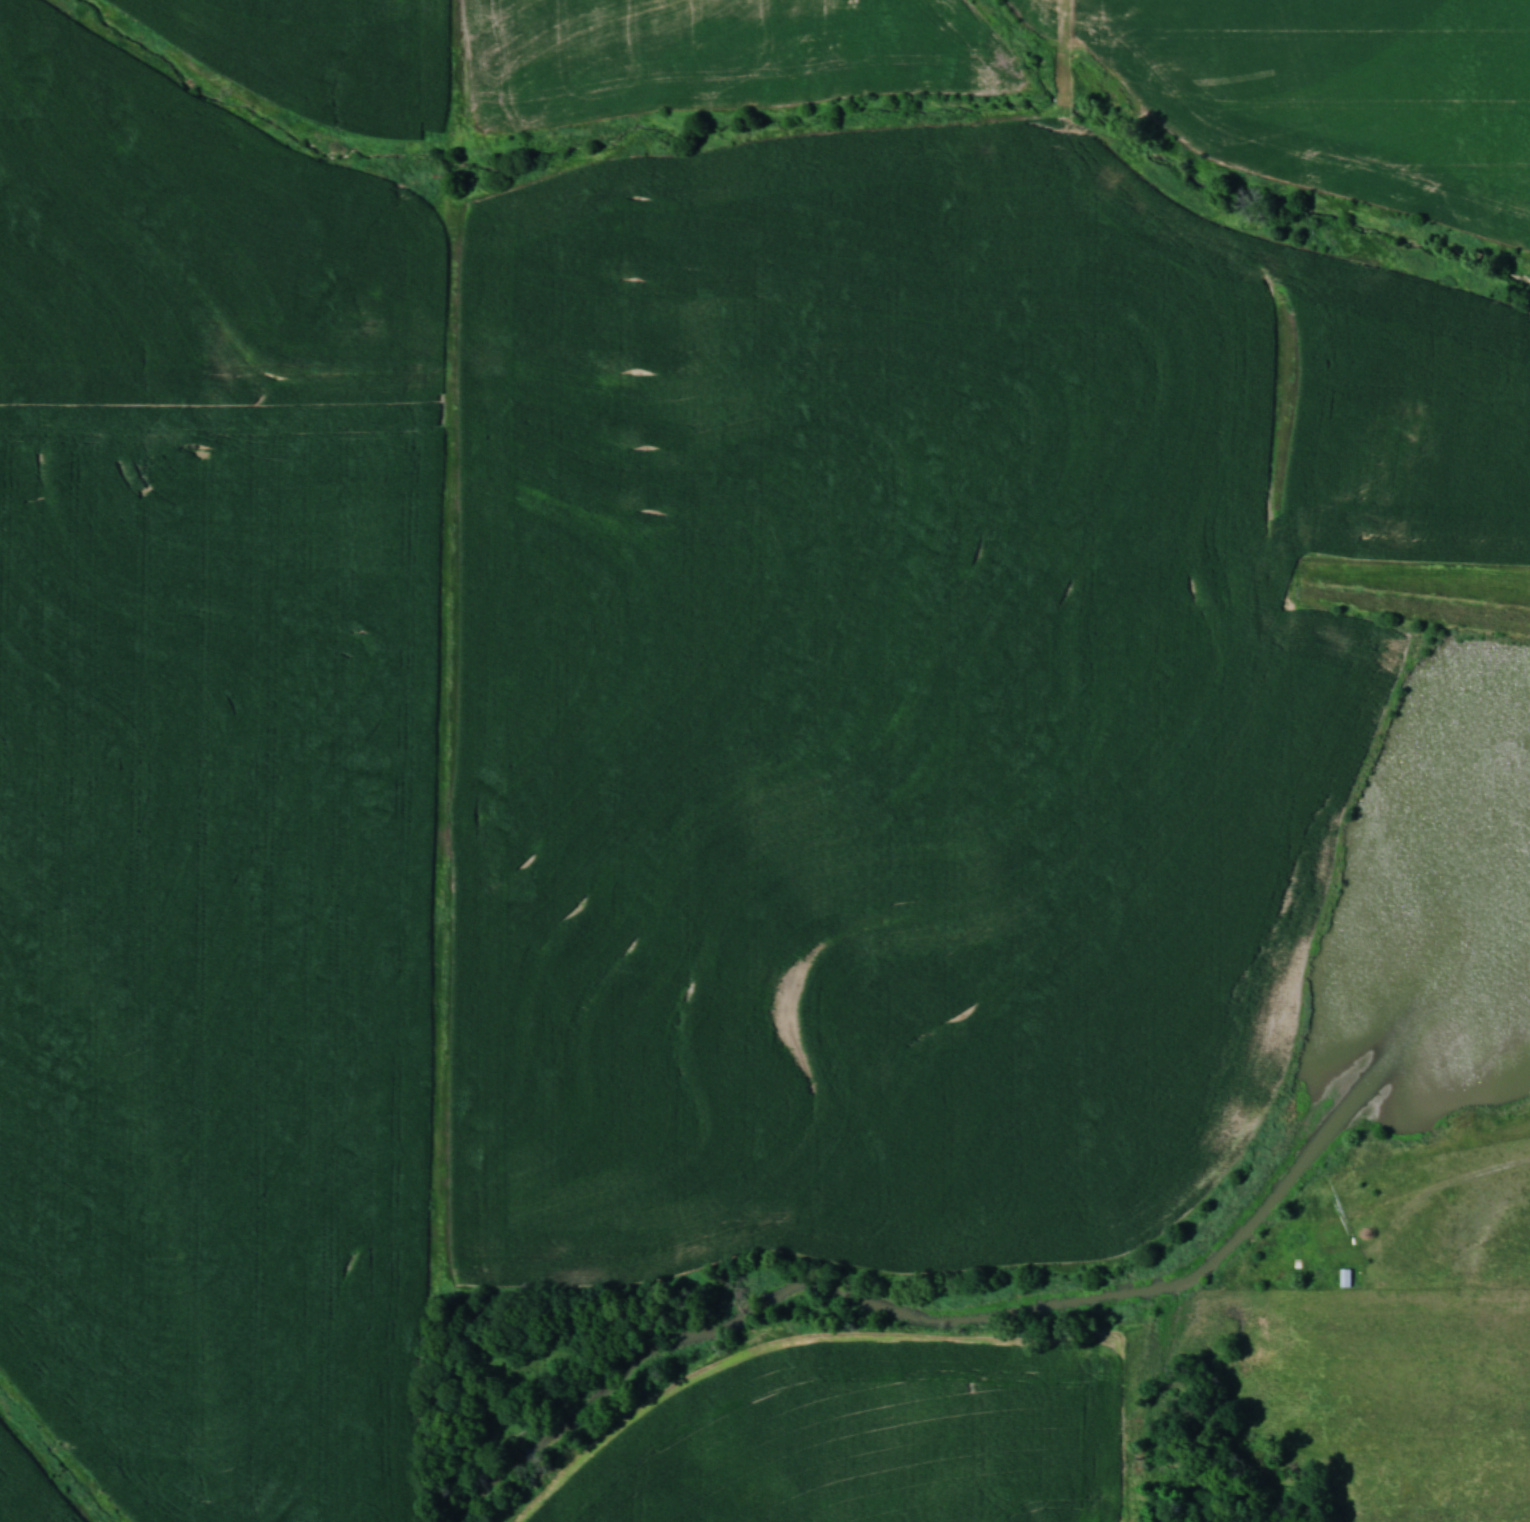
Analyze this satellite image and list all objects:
building: (1346, 1278)

